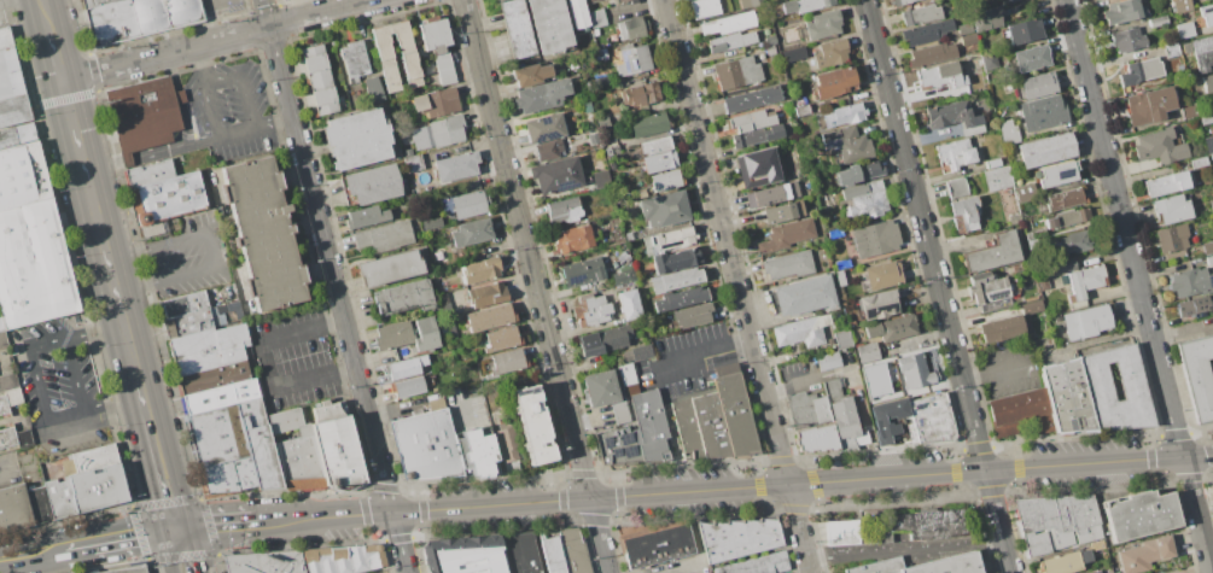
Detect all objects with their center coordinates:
building: (1009, 0)
building: (1196, 0)
road: (6, 1)
building: (590, 1)
building: (629, 1)
building: (1014, 1)
building: (98, 2)
building: (751, 2)
building: (902, 2)
building: (805, 5)
building: (1182, 6)
parking lot: (223, 7)
building: (704, 8)
building: (1124, 12)
building: (578, 13)
building: (921, 14)
road: (46, 16)
building: (1207, 16)
building: (597, 17)
building: (141, 18)
building: (987, 18)
road: (215, 19)
building: (1159, 22)
building: (826, 23)
building: (729, 24)
building: (549, 27)
building: (1185, 28)
building: (517, 29)
building: (632, 29)
building: (964, 29)
building: (1022, 31)
building: (596, 33)
building: (927, 33)
road: (216, 40)
building: (769, 40)
building: (968, 40)
building: (1127, 40)
building: (730, 42)
building: (437, 48)
building: (1171, 49)
building: (769, 51)
building: (830, 53)
building: (1202, 53)
building: (601, 54)
building: (793, 54)
building: (932, 54)
road: (56, 55)
building: (1032, 58)
building: (634, 59)
building: (354, 60)
rooftop solar panel: (623, 62)
building: (989, 62)
rooftop solar panel: (632, 63)
building: (409, 64)
road: (203, 65)
building: (10, 69)
building: (654, 70)
building: (1142, 70)
building: (737, 72)
building: (531, 75)
building: (940, 77)
building: (321, 81)
building: (606, 82)
building: (1207, 82)
building: (832, 83)
road: (244, 84)
building: (1037, 86)
building: (373, 89)
building: (541, 95)
building: (638, 95)
road: (180, 98)
building: (752, 99)
building: (437, 103)
building: (1149, 105)
building: (587, 107)
building: (801, 110)
building: (1188, 110)
parking lot: (232, 111)
building: (14, 112)
road: (212, 112)
building: (1046, 113)
building: (792, 115)
building: (844, 116)
building: (145, 117)
building: (956, 117)
building: (1206, 118)
building: (752, 121)
rooftop solar panel: (546, 122)
building: (647, 124)
building: (544, 128)
building: (1008, 131)
road: (239, 133)
building: (439, 133)
building: (17, 135)
rooftop solar panel: (546, 135)
building: (756, 136)
building: (357, 139)
building: (594, 139)
building: (848, 144)
building: (1208, 144)
building: (655, 146)
building: (1159, 147)
building: (1045, 150)
building: (548, 151)
road: (161, 152)
building: (608, 152)
building: (407, 153)
building: (956, 153)
road: (128, 160)
building: (413, 163)
building: (659, 163)
building: (1200, 163)
building: (754, 164)
building: (993, 164)
road: (105, 166)
building: (456, 166)
building: (794, 170)
building: (151, 173)
building: (859, 173)
rooftop solar panel: (1063, 174)
building: (556, 175)
building: (1059, 175)
building: (22, 176)
building: (601, 179)
building: (997, 179)
building: (665, 181)
building: (371, 185)
building: (470, 185)
building: (1167, 185)
rooftop solar panel: (564, 186)
building: (957, 188)
building: (415, 192)
building: (1025, 193)
building: (642, 194)
building: (771, 194)
building: (170, 198)
building: (1065, 199)
building: (865, 200)
building: (465, 205)
building: (1211, 206)
building: (664, 209)
building: (1172, 209)
building: (565, 210)
building: (782, 212)
building: (966, 214)
building: (366, 217)
building: (1015, 218)
building: (1068, 218)
building: (432, 223)
road: (103, 232)
building: (472, 232)
building: (835, 233)
building: (264, 235)
building: (787, 235)
road: (923, 235)
building: (385, 236)
building: (630, 236)
building: (1172, 238)
building: (876, 239)
building: (573, 240)
building: (669, 241)
building: (1074, 242)
building: (1208, 247)
road: (211, 250)
building: (993, 253)
road: (127, 256)
building: (675, 261)
building: (1209, 261)
building: (842, 264)
building: (789, 265)
building: (1061, 265)
building: (34, 267)
building: (389, 268)
building: (480, 270)
building: (583, 273)
building: (624, 275)
building: (883, 275)
building: (840, 279)
building: (677, 280)
building: (1086, 280)
rooftop solar panel: (577, 281)
building: (1190, 282)
building: (1043, 283)
road: (334, 286)
road: (535, 286)
road: (736, 286)
road: (1138, 286)
road: (136, 288)
building: (987, 288)
rooftop solar panel: (997, 294)
building: (488, 296)
building: (805, 296)
building: (403, 299)
building: (680, 299)
building: (185, 305)
building: (629, 305)
building: (876, 305)
building: (996, 305)
building: (1078, 305)
building: (1031, 306)
building: (1194, 306)
building: (459, 310)
building: (591, 310)
building: (693, 315)
building: (489, 318)
building: (1089, 321)
building: (189, 324)
building: (1, 326)
building: (892, 328)
building: (1003, 328)
road: (95, 329)
building: (801, 331)
building: (393, 335)
building: (425, 335)
building: (2, 339)
building: (501, 339)
building: (605, 339)
building: (844, 339)
building: (829, 347)
building: (210, 349)
building: (14, 350)
building: (868, 352)
building: (638, 353)
road: (704, 356)
building: (508, 361)
parking lot: (687, 361)
building: (828, 361)
road: (264, 364)
building: (406, 367)
building: (914, 373)
building: (628, 374)
road: (997, 375)
building: (1197, 375)
road: (76, 378)
building: (215, 378)
road: (807, 378)
building: (875, 380)
building: (1096, 381)
building: (8, 382)
road: (41, 387)
building: (409, 387)
parking lot: (58, 388)
building: (601, 388)
rooftop solar panel: (532, 390)
rooftop solar panel: (519, 393)
building: (221, 397)
building: (1067, 398)
building: (10, 400)
building: (436, 405)
rooftop solar panel: (920, 405)
parking lot: (465, 408)
road: (116, 409)
building: (735, 411)
building: (810, 411)
building: (620, 414)
building: (1022, 414)
building: (845, 417)
building: (932, 419)
road: (867, 421)
building: (894, 425)
rooftop solar panel: (1073, 425)
building: (532, 426)
building: (710, 426)
building: (652, 427)
road: (673, 431)
building: (687, 431)
building: (217, 435)
building: (13, 437)
building: (820, 439)
rooftop solar panel: (625, 440)
rooftop solar panel: (606, 443)
building: (258, 444)
building: (337, 446)
building: (428, 446)
building: (617, 446)
building: (508, 449)
building: (296, 450)
building: (478, 450)
road: (465, 452)
rooftop solar panel: (616, 452)
rooftop solar panel: (630, 454)
flagpole: (747, 456)
road: (158, 457)
building: (91, 460)
parking lot: (10, 470)
road: (1, 475)
building: (228, 475)
road: (731, 487)
building: (1212, 487)
building: (98, 489)
road: (476, 491)
building: (60, 498)
building: (40, 505)
building: (14, 509)
building: (1139, 515)
road: (997, 521)
building: (1056, 522)
road: (214, 526)
building: (894, 527)
traffic signals: (176, 530)
road: (133, 536)
building: (739, 538)
building: (655, 545)
road: (77, 546)
building: (1097, 546)
road: (169, 550)
road: (189, 550)
building: (573, 550)
road: (699, 550)
building: (519, 552)
road: (904, 552)
building: (552, 554)
building: (1147, 554)
building: (463, 555)
road: (31, 556)
building: (343, 559)
building: (267, 562)
building: (1065, 562)
building: (757, 565)
building: (925, 566)
building: (129, 569)
road: (402, 572)
building: (1097, 572)

